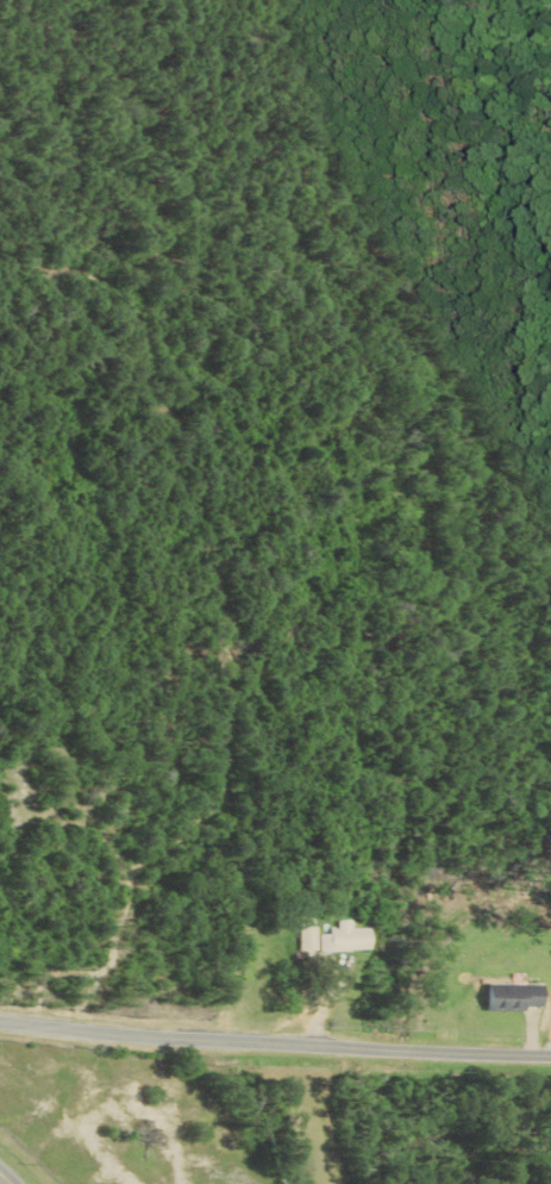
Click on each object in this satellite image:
building: (343, 939)
building: (509, 996)
road: (275, 1042)
road: (4, 1179)

